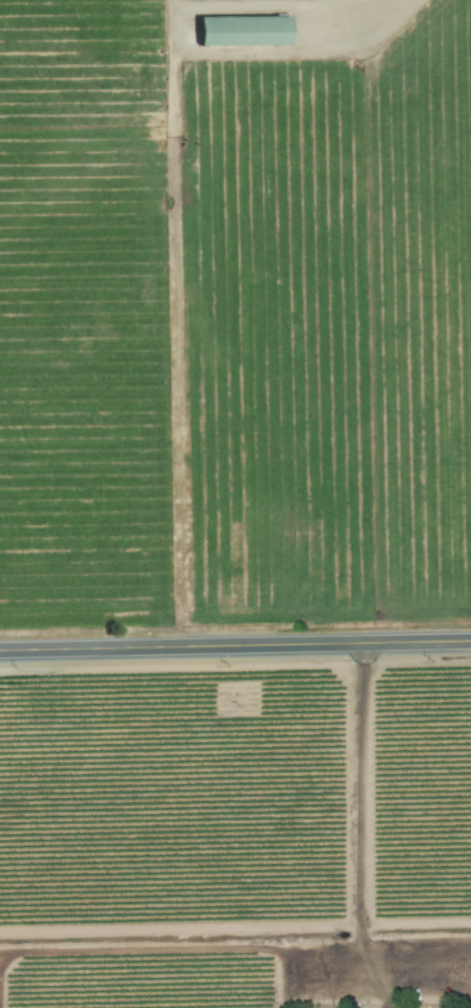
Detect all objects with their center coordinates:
road: (322, 1)
road: (319, 26)
building: (246, 29)
road: (218, 53)
road: (235, 646)
road: (322, 929)
road: (235, 946)
road: (372, 969)

